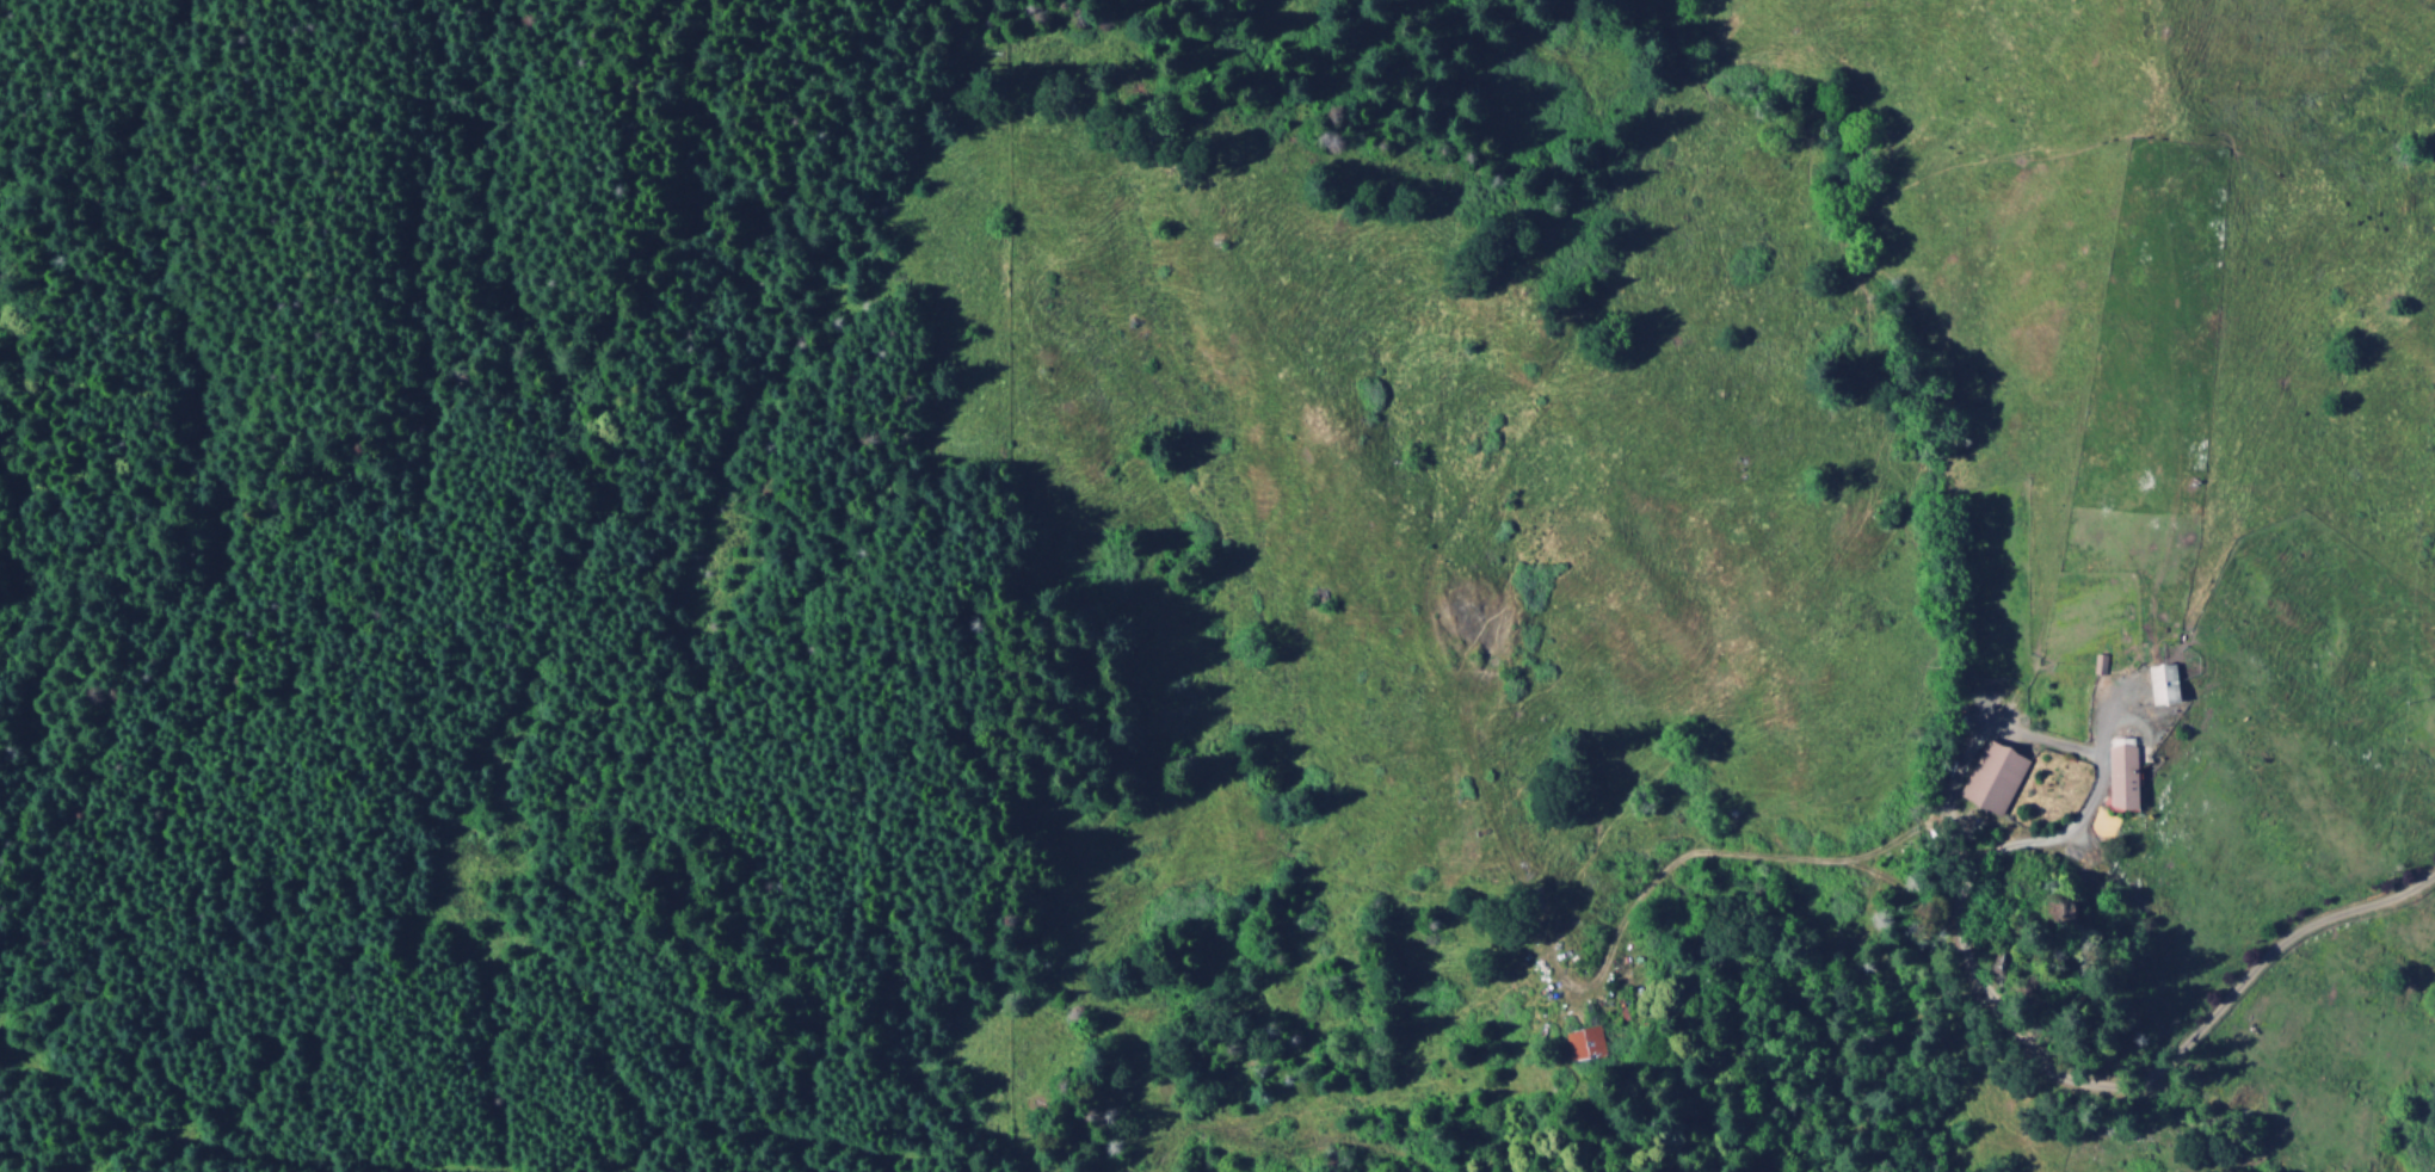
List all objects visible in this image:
road: (943, 32)
building: (2098, 666)
building: (2165, 686)
building: (1993, 778)
building: (2123, 778)
road: (98, 943)
building: (1584, 1044)
road: (2138, 1082)
road: (43, 1139)

